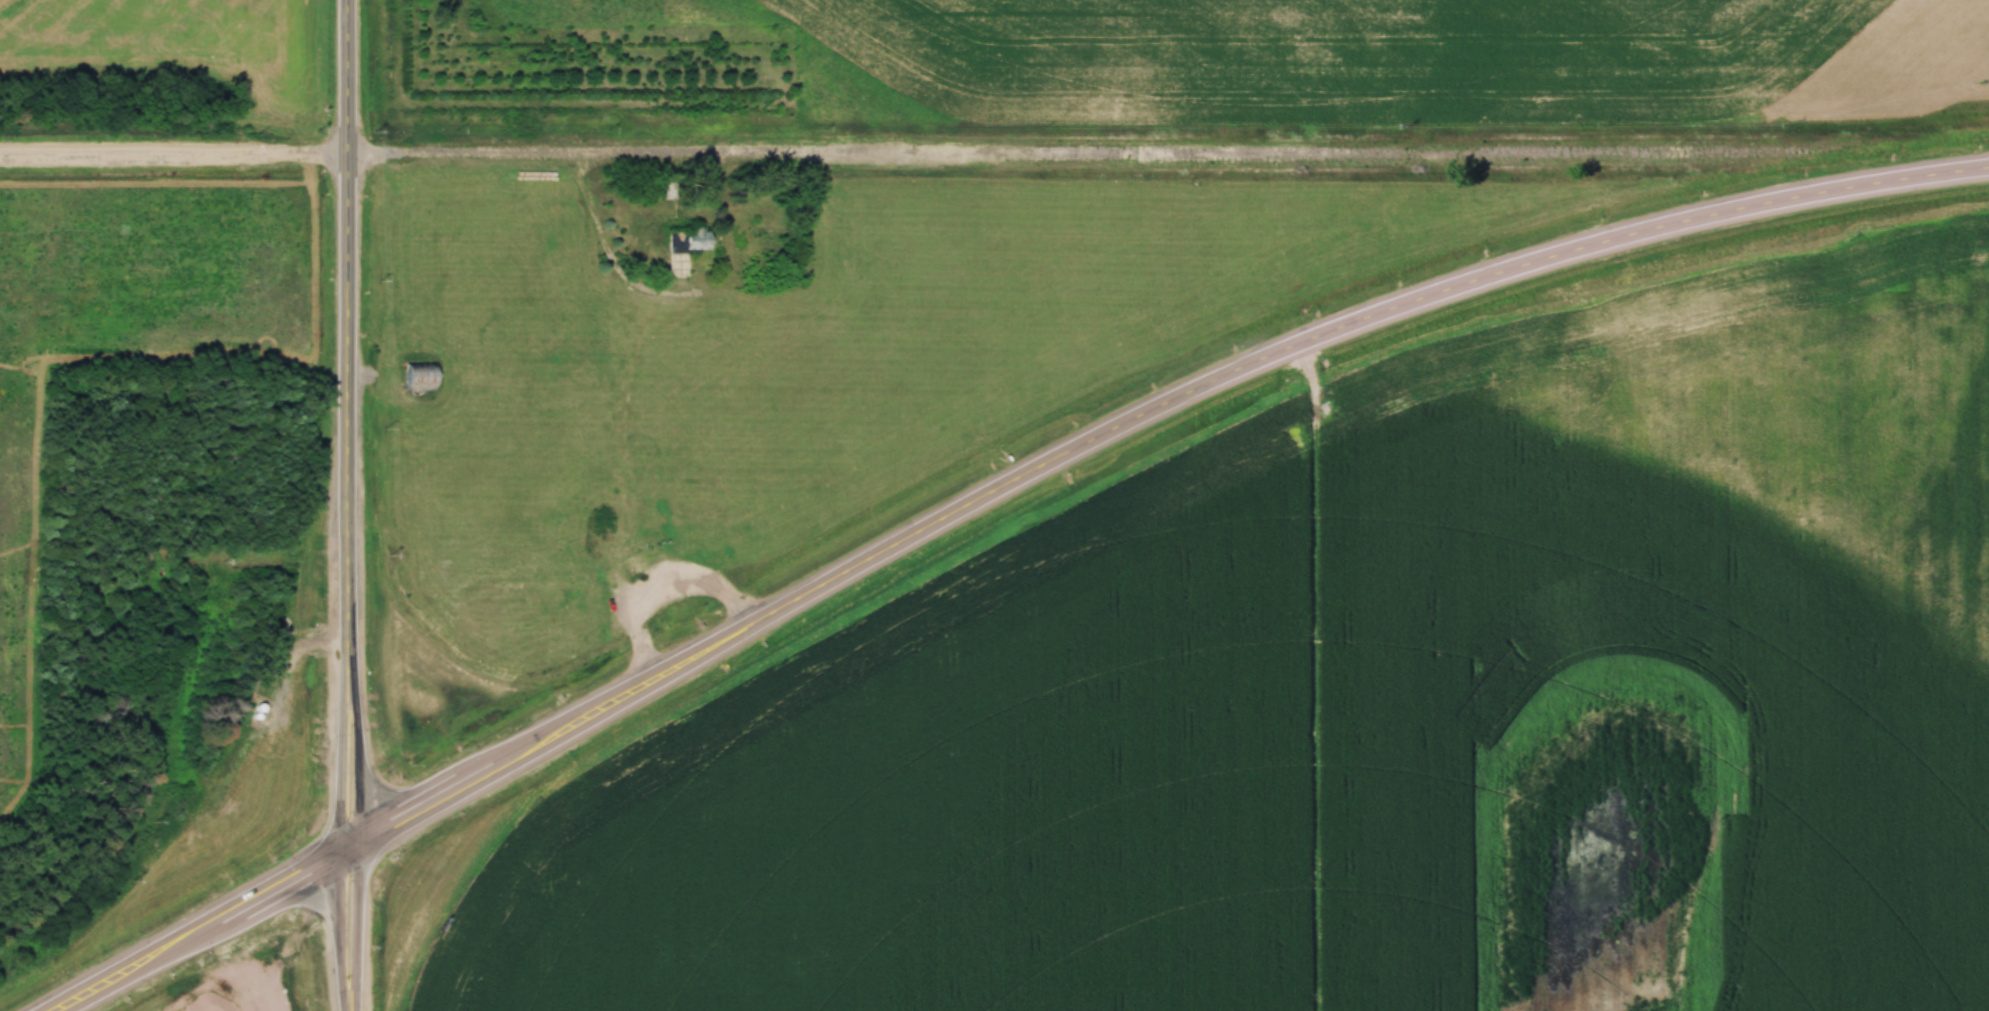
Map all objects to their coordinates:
road: (994, 156)
building: (685, 242)
road: (608, 255)
road: (349, 343)
building: (418, 378)
road: (984, 494)
road: (348, 848)
road: (364, 848)

